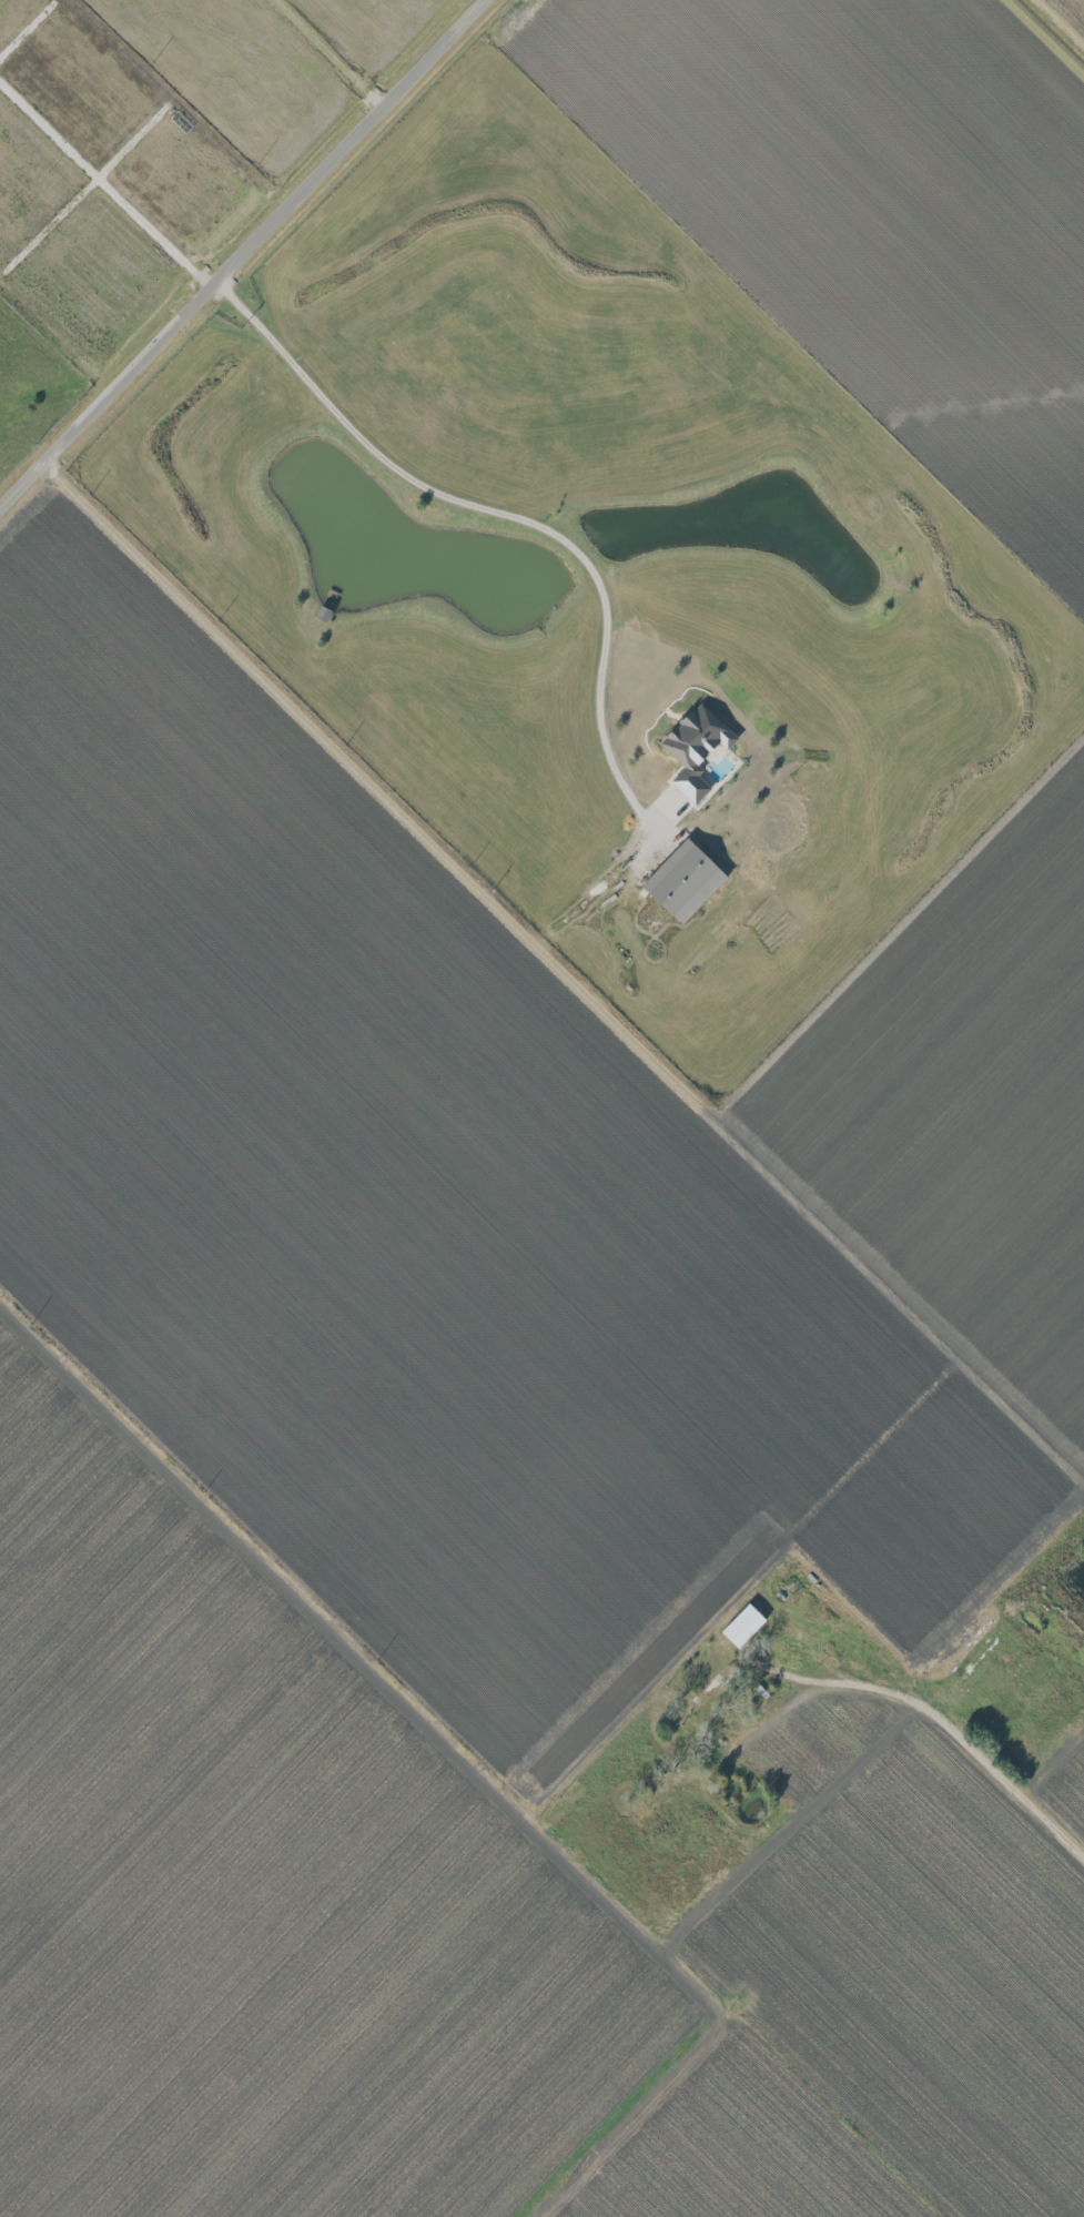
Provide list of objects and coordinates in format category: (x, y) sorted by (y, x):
road: (243, 253)
road: (503, 514)
building: (696, 748)
building: (683, 881)
road: (564, 961)
building: (742, 1624)
road: (839, 1681)
road: (474, 1754)
road: (1002, 1782)
road: (646, 2116)

